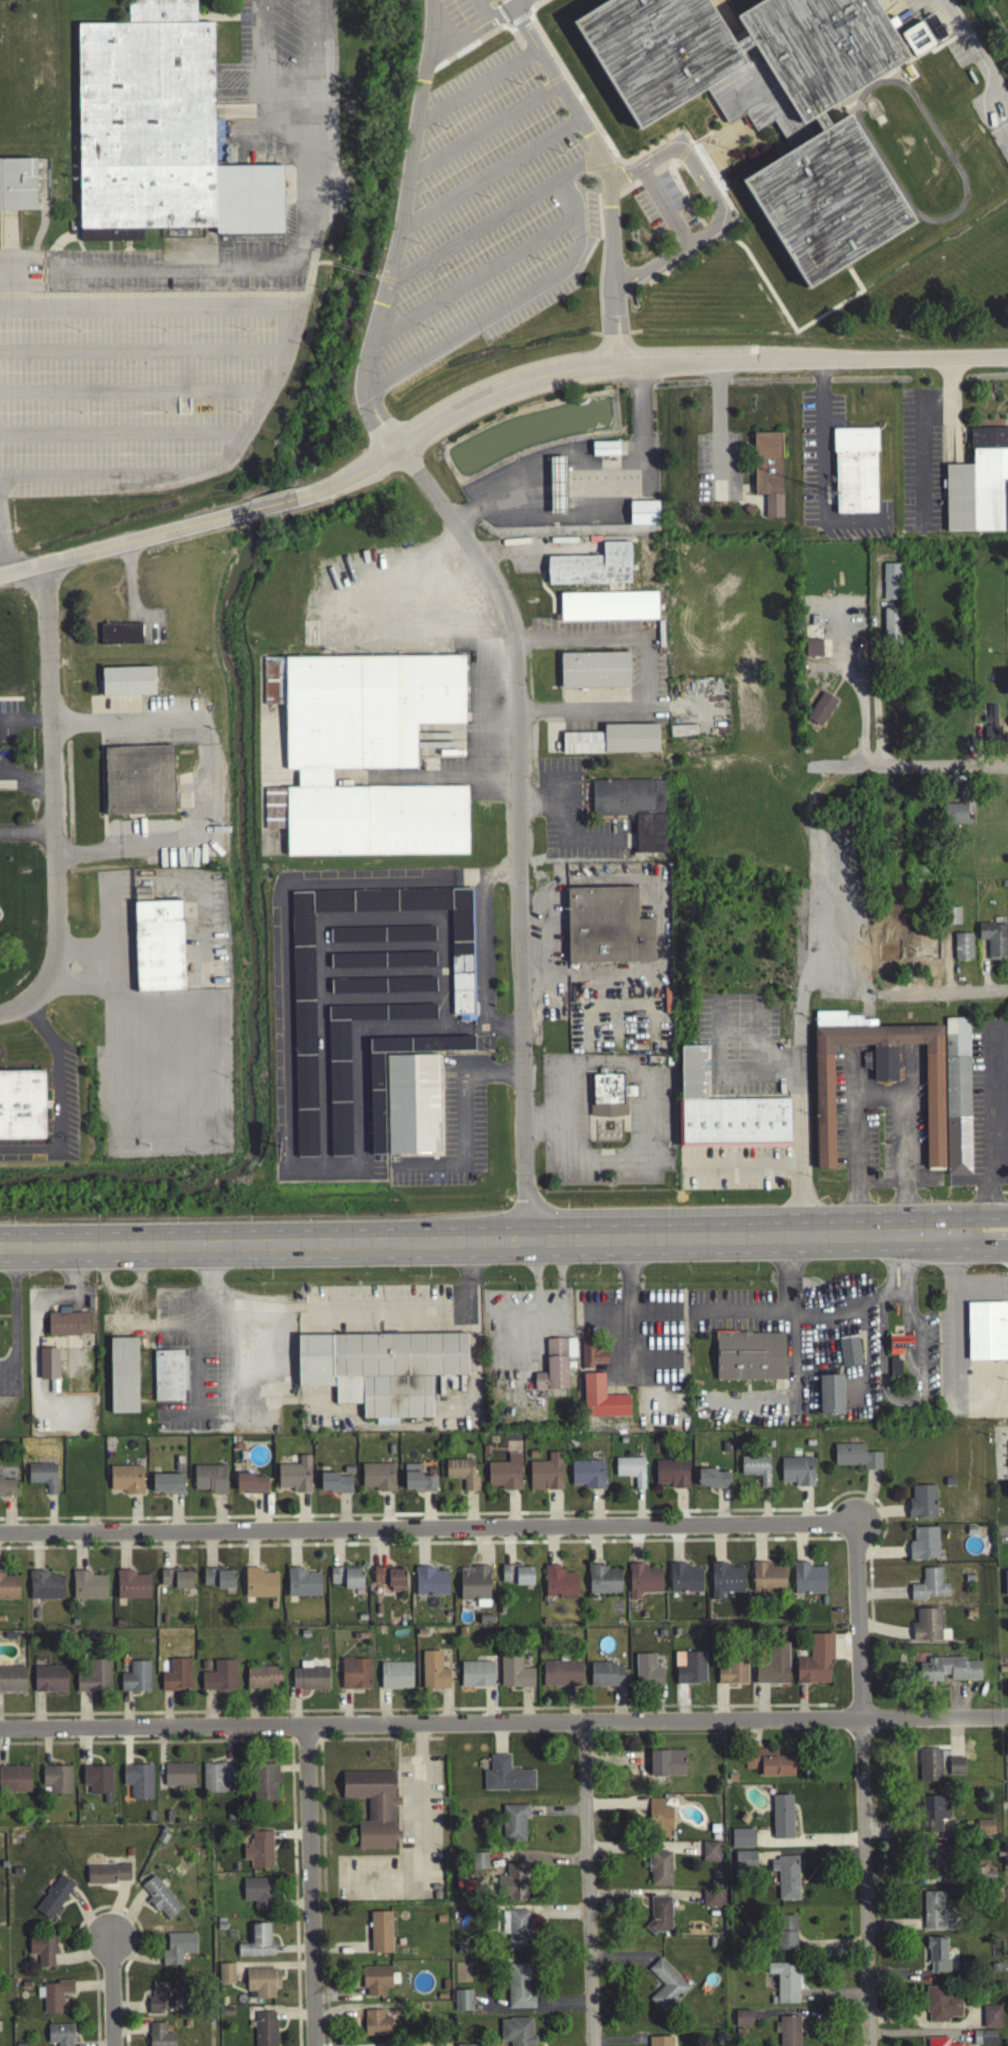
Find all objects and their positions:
road: (512, 2)
road: (518, 2)
road: (484, 10)
parking lot: (464, 23)
building: (923, 38)
road: (975, 45)
road: (478, 85)
building: (771, 104)
road: (485, 127)
building: (161, 131)
road: (491, 170)
road: (606, 170)
building: (17, 187)
parking lot: (663, 203)
parking lot: (487, 215)
road: (495, 216)
road: (398, 228)
road: (300, 241)
road: (475, 274)
road: (508, 302)
road: (636, 360)
road: (8, 377)
building: (858, 466)
road: (823, 467)
building: (768, 474)
gas station: (557, 482)
building: (980, 483)
building: (557, 485)
road: (263, 505)
building: (643, 510)
road: (114, 542)
road: (2, 559)
building: (592, 569)
road: (411, 570)
building: (890, 584)
building: (608, 609)
building: (892, 628)
building: (121, 631)
building: (812, 651)
road: (647, 669)
building: (594, 673)
building: (128, 678)
road: (877, 683)
road: (861, 689)
building: (820, 712)
road: (123, 724)
building: (990, 727)
building: (684, 733)
building: (613, 743)
building: (363, 757)
road: (944, 761)
building: (139, 778)
road: (52, 787)
building: (634, 811)
building: (955, 817)
road: (521, 821)
road: (27, 835)
road: (179, 843)
building: (953, 919)
building: (606, 930)
building: (355, 937)
building: (408, 937)
building: (994, 942)
building: (160, 943)
building: (301, 949)
building: (962, 949)
building: (929, 951)
building: (889, 953)
building: (381, 963)
building: (461, 968)
building: (409, 987)
building: (356, 989)
road: (945, 991)
road: (12, 1011)
building: (355, 1015)
building: (409, 1015)
road: (759, 1031)
parking lot: (744, 1043)
road: (799, 1049)
building: (867, 1063)
road: (719, 1071)
building: (882, 1077)
building: (304, 1081)
building: (338, 1091)
building: (959, 1093)
parking lot: (989, 1094)
building: (609, 1098)
road: (56, 1101)
building: (416, 1103)
building: (376, 1106)
building: (21, 1108)
building: (727, 1111)
road: (999, 1120)
road: (800, 1145)
parking lot: (732, 1166)
road: (745, 1167)
road: (978, 1220)
road: (475, 1238)
road: (978, 1245)
road: (900, 1246)
road: (628, 1291)
road: (894, 1297)
road: (739, 1308)
road: (343, 1310)
road: (797, 1317)
road: (953, 1319)
building: (67, 1327)
building: (988, 1329)
building: (849, 1354)
building: (897, 1354)
building: (593, 1357)
building: (749, 1359)
building: (47, 1367)
building: (555, 1368)
building: (381, 1372)
building: (124, 1373)
building: (169, 1373)
building: (830, 1398)
building: (601, 1401)
road: (901, 1406)
building: (856, 1460)
building: (756, 1471)
building: (630, 1473)
building: (797, 1474)
building: (462, 1476)
building: (505, 1476)
building: (546, 1476)
building: (671, 1476)
building: (587, 1477)
building: (295, 1478)
building: (43, 1479)
building: (378, 1480)
building: (210, 1481)
building: (126, 1482)
building: (712, 1482)
building: (417, 1483)
building: (167, 1486)
building: (334, 1486)
building: (251, 1487)
building: (7, 1490)
building: (922, 1504)
road: (429, 1527)
building: (924, 1547)
building: (771, 1574)
building: (688, 1576)
building: (813, 1576)
building: (729, 1577)
building: (516, 1578)
building: (346, 1580)
building: (218, 1581)
building: (390, 1581)
building: (175, 1582)
building: (603, 1583)
building: (642, 1583)
building: (430, 1585)
building: (559, 1585)
building: (259, 1586)
building: (303, 1586)
building: (473, 1586)
building: (1005, 1586)
building: (132, 1588)
building: (45, 1589)
building: (88, 1589)
building: (929, 1589)
building: (9, 1590)
building: (928, 1629)
building: (815, 1664)
building: (773, 1668)
building: (689, 1671)
building: (647, 1673)
building: (948, 1673)
building: (433, 1674)
building: (731, 1674)
building: (515, 1676)
building: (561, 1676)
building: (355, 1677)
building: (476, 1677)
building: (396, 1678)
building: (606, 1678)
building: (176, 1679)
building: (135, 1680)
building: (219, 1680)
building: (263, 1680)
building: (309, 1680)
building: (94, 1681)
building: (12, 1682)
building: (49, 1682)
road: (504, 1722)
building: (769, 1765)
building: (666, 1766)
building: (930, 1768)
building: (955, 1769)
building: (178, 1777)
building: (506, 1779)
building: (216, 1781)
building: (15, 1782)
building: (57, 1782)
building: (97, 1782)
road: (863, 1783)
building: (138, 1784)
building: (264, 1785)
building: (373, 1810)
building: (934, 1818)
building: (782, 1819)
building: (659, 1822)
building: (514, 1825)
building: (985, 1830)
building: (742, 1841)
building: (259, 1853)
building: (709, 1855)
building: (933, 1862)
building: (479, 1864)
building: (744, 1864)
building: (659, 1872)
building: (107, 1877)
building: (985, 1878)
building: (786, 1880)
road: (589, 1884)
road: (309, 1885)
building: (512, 1886)
building: (464, 1889)
building: (257, 1895)
building: (54, 1900)
building: (160, 1901)
building: (712, 1901)
building: (936, 1915)
building: (659, 1917)
building: (515, 1932)
building: (380, 1935)
building: (786, 1936)
building: (256, 1945)
building: (177, 1951)
building: (42, 1952)
building: (937, 1957)
building: (226, 1977)
building: (377, 1983)
building: (262, 1985)
building: (785, 1985)
building: (666, 1989)
building: (519, 1990)
road: (113, 1991)
building: (52, 1999)
building: (163, 1999)
building: (462, 2003)
building: (941, 2008)
building: (991, 2019)
building: (742, 2021)
building: (379, 2026)
building: (265, 2030)
building: (788, 2032)
building: (516, 2033)
building: (59, 2037)
building: (159, 2037)
building: (984, 2039)
building: (660, 2043)
building: (938, 2043)

